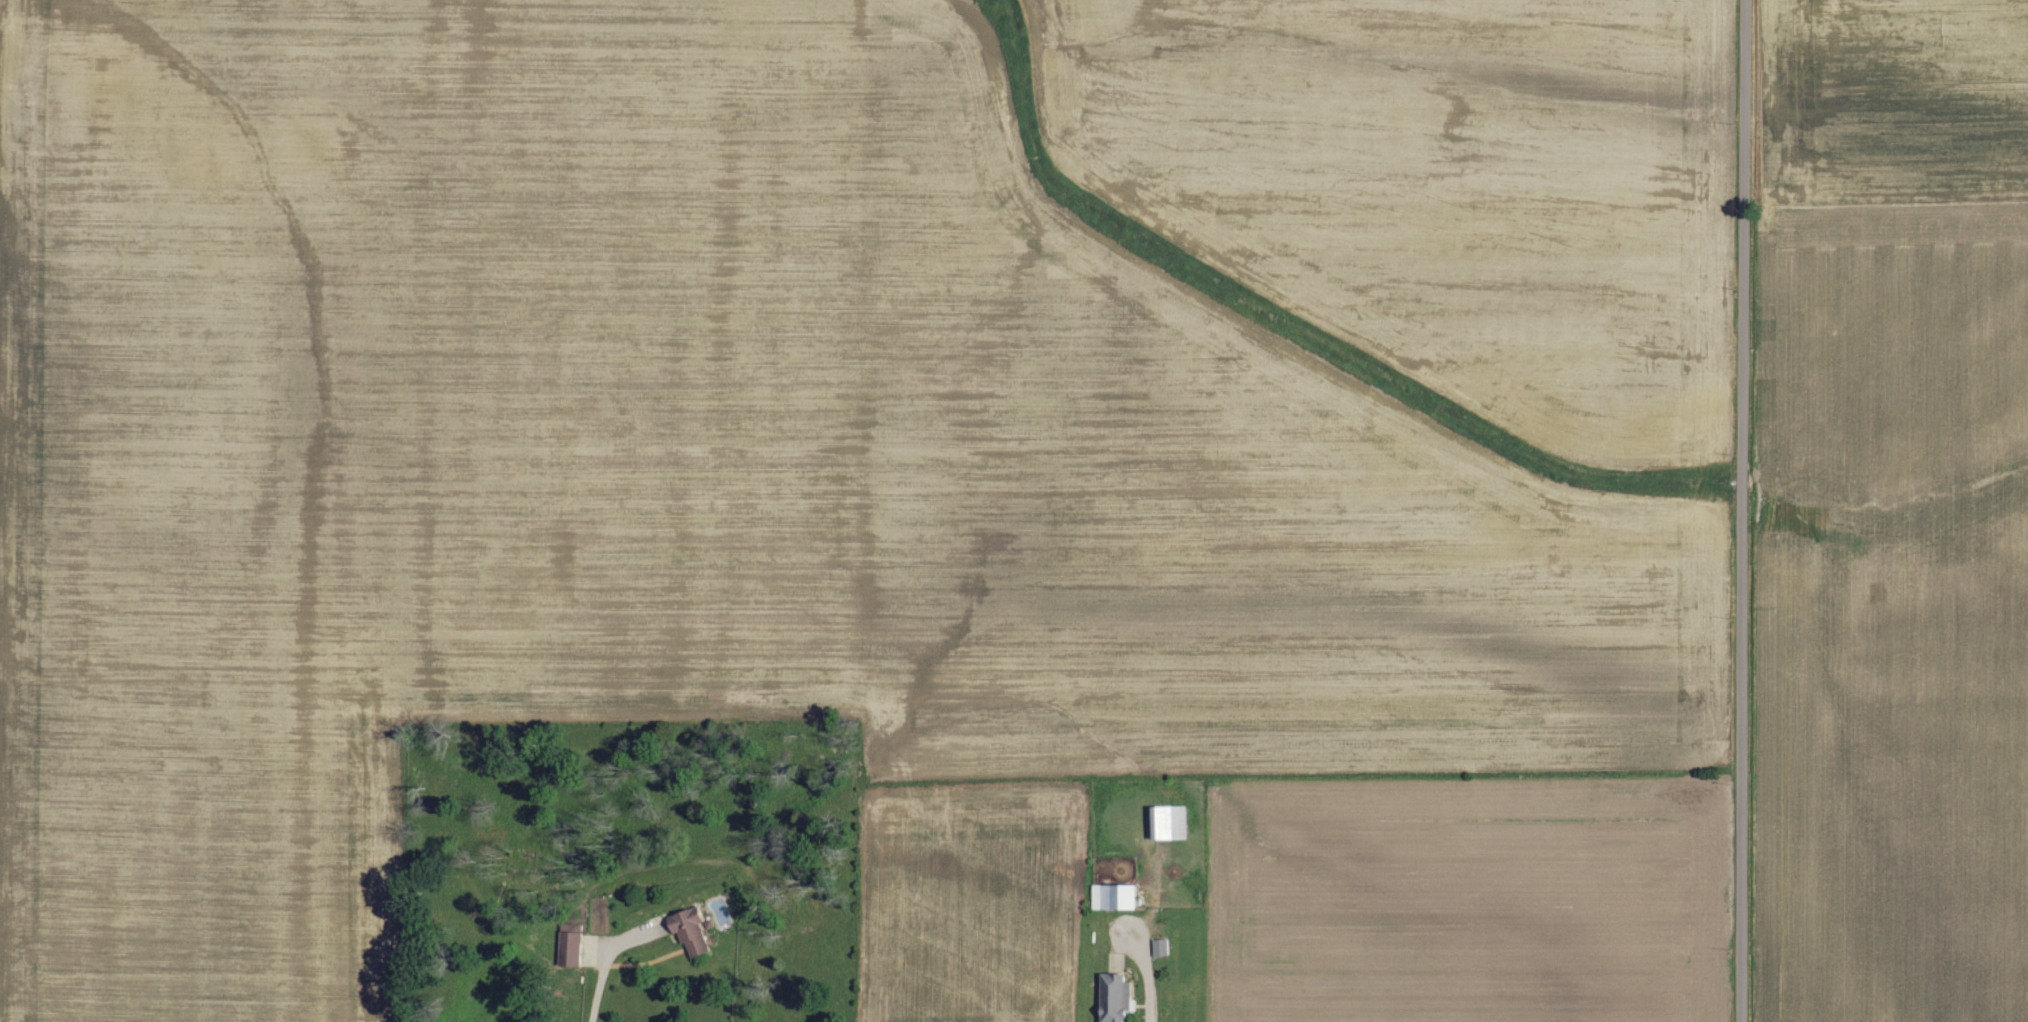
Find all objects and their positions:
road: (1745, 511)
building: (1167, 824)
building: (1113, 898)
building: (688, 932)
building: (569, 948)
building: (1159, 948)
building: (1114, 998)

